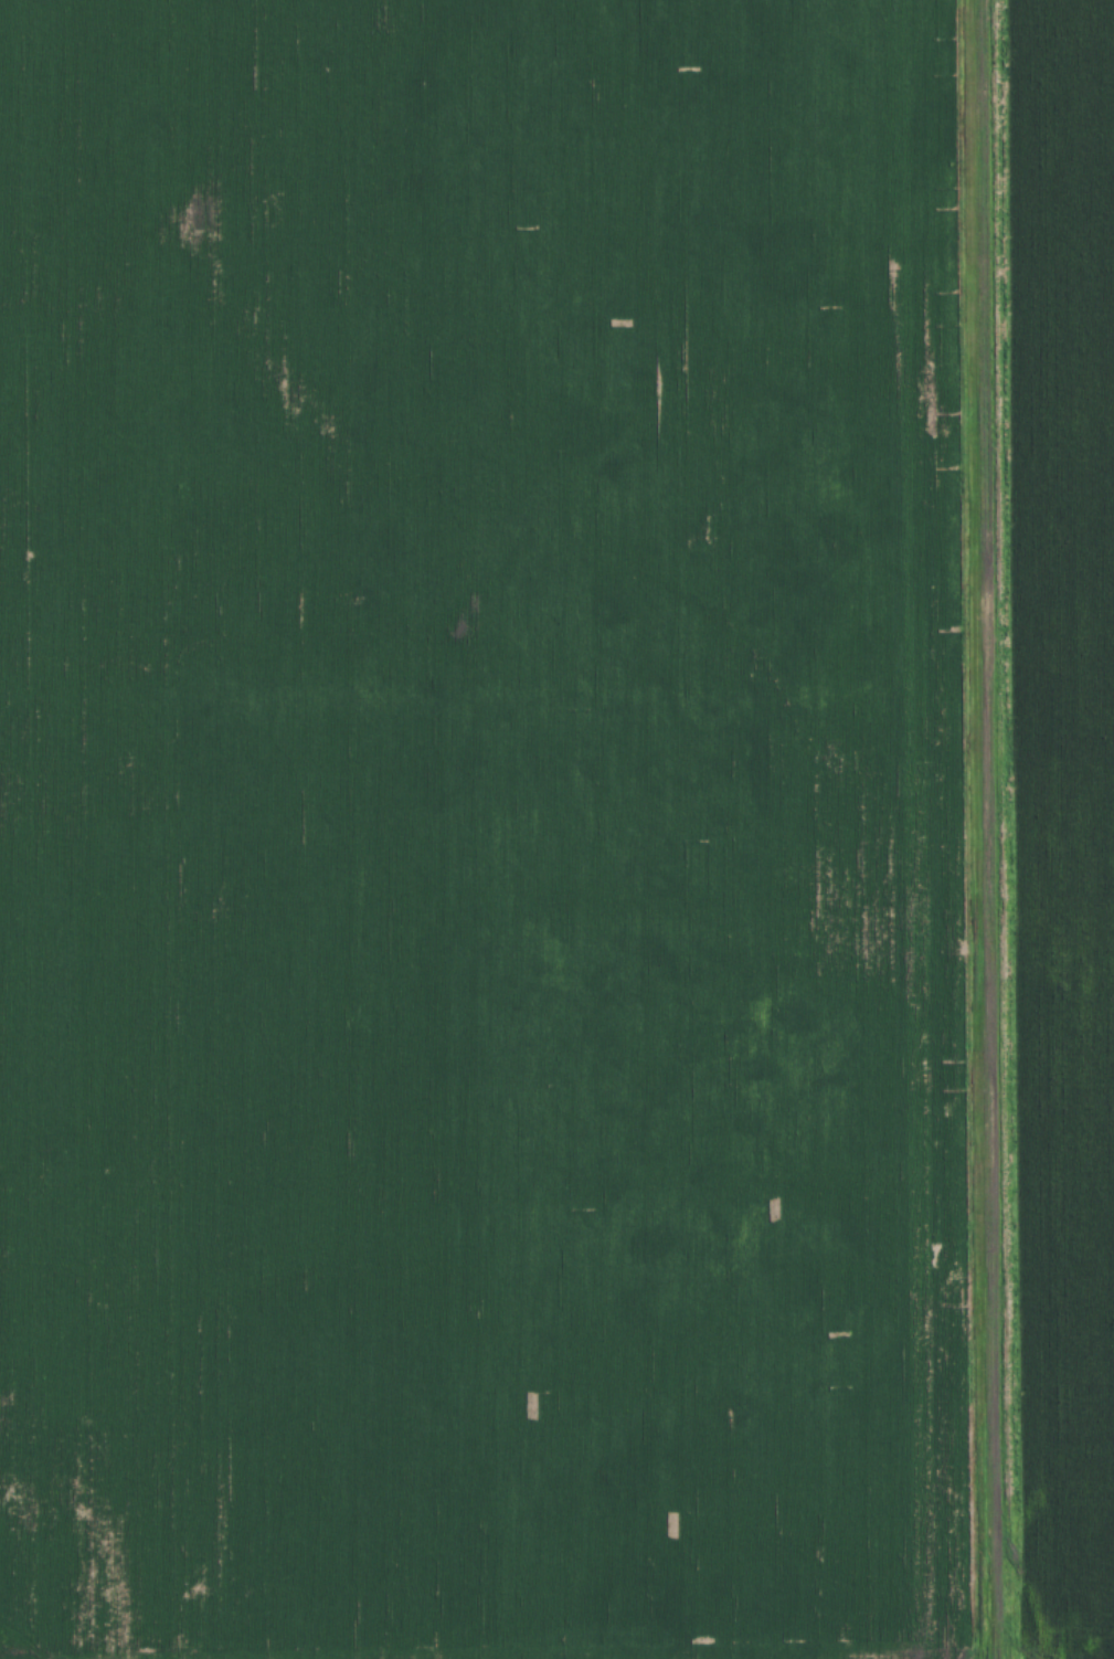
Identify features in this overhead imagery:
road: (985, 829)

